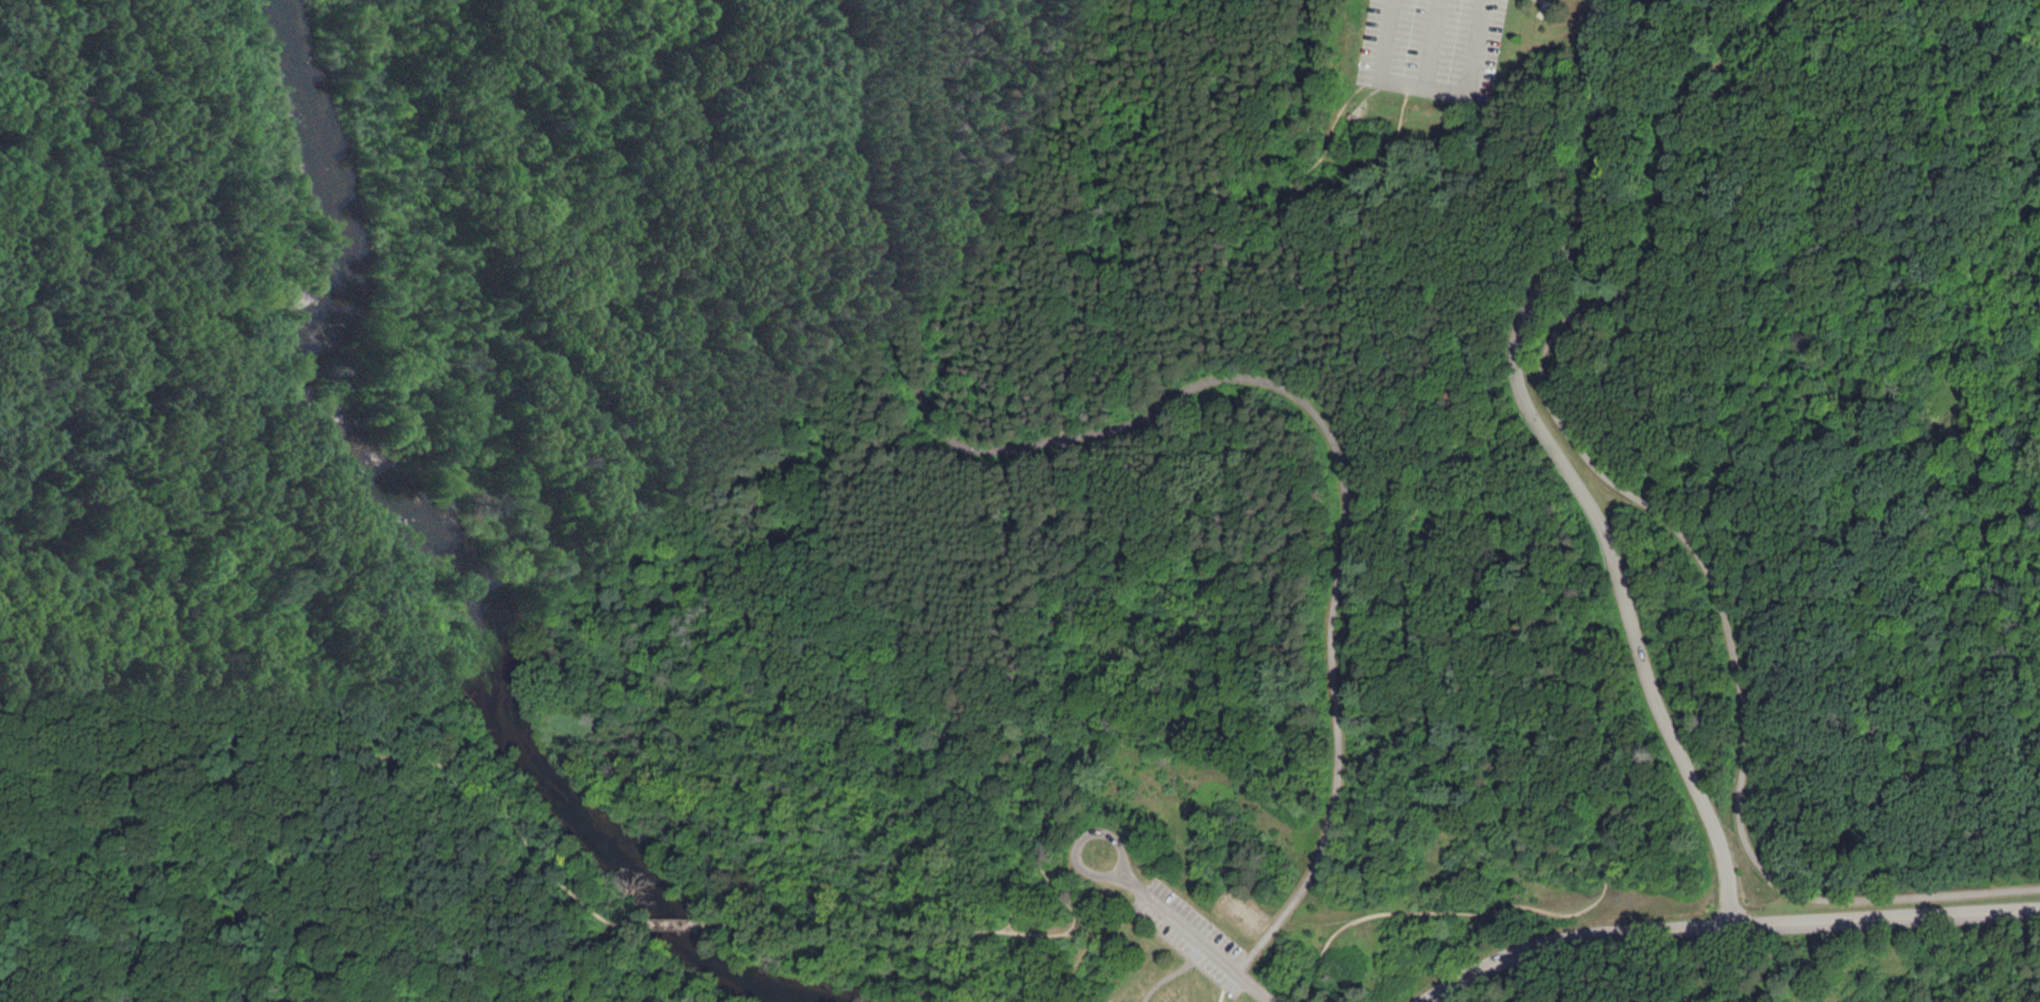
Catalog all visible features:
road: (1225, 0)
road: (1547, 3)
road: (1431, 41)
parking lot: (1432, 47)
road: (1430, 84)
road: (1368, 94)
building: (1351, 116)
road: (133, 342)
road: (997, 346)
road: (1196, 385)
road: (1758, 454)
road: (1562, 461)
road: (1135, 473)
park: (1020, 501)
road: (1658, 513)
river: (443, 565)
road: (1438, 694)
road: (295, 702)
road: (362, 707)
road: (340, 752)
road: (130, 770)
road: (528, 843)
road: (1077, 858)
road: (1059, 865)
park: (1241, 910)
road: (675, 922)
road: (1721, 924)
road: (856, 926)
road: (1105, 929)
parking lot: (1191, 932)
road: (1196, 934)
road: (1183, 952)
road: (1075, 961)
road: (1165, 979)
road: (1222, 995)
building: (1125, 1001)

